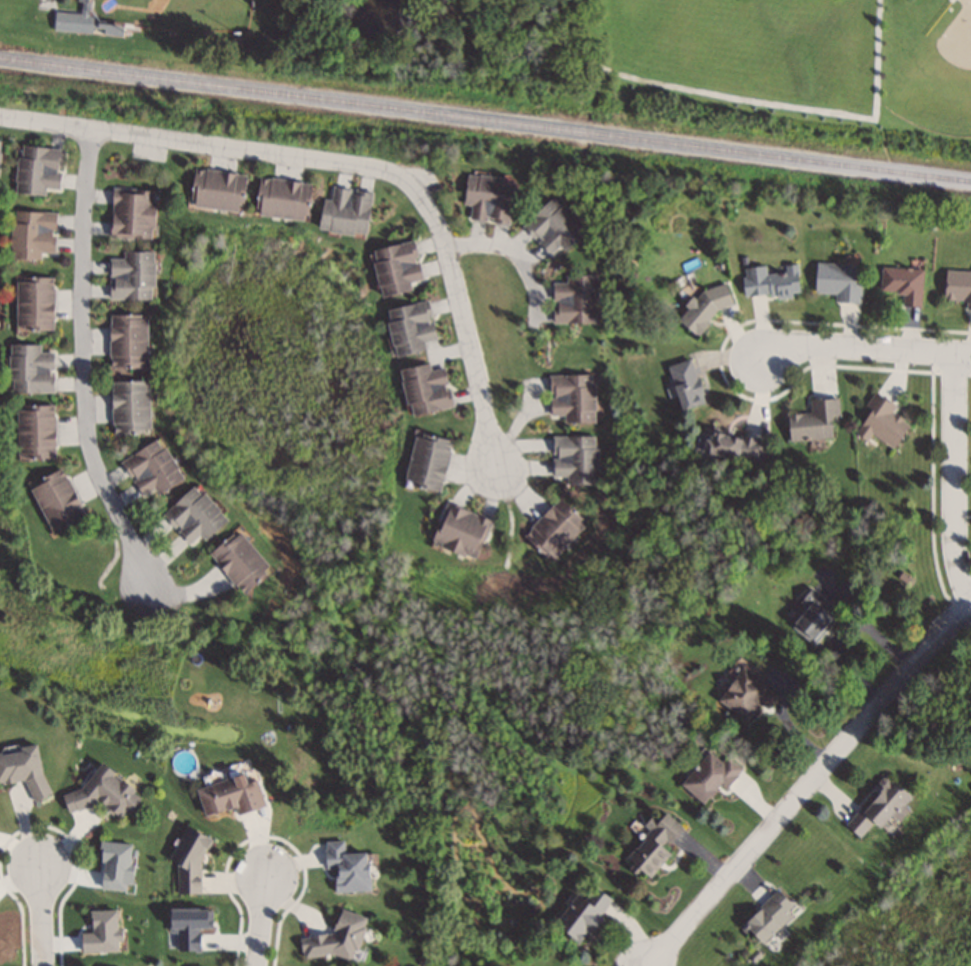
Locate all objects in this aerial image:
park: (172, 13)
building: (81, 21)
park: (597, 52)
road: (353, 163)
building: (38, 169)
building: (215, 189)
building: (488, 197)
building: (280, 198)
building: (344, 211)
building: (130, 213)
building: (553, 227)
building: (32, 234)
road: (516, 254)
building: (395, 267)
building: (130, 275)
building: (769, 280)
building: (837, 280)
building: (902, 283)
building: (957, 287)
building: (573, 299)
building: (699, 302)
building: (33, 303)
building: (408, 327)
building: (125, 341)
road: (865, 347)
road: (83, 361)
building: (29, 369)
building: (684, 383)
building: (424, 388)
building: (570, 398)
building: (128, 407)
building: (812, 420)
building: (881, 420)
building: (34, 432)
building: (732, 447)
building: (574, 458)
building: (426, 462)
building: (150, 468)
road: (955, 477)
building: (54, 498)
building: (194, 514)
building: (555, 530)
building: (460, 531)
building: (238, 560)
building: (812, 616)
building: (746, 693)
building: (22, 768)
building: (709, 775)
road: (808, 785)
building: (100, 791)
building: (228, 794)
building: (877, 806)
building: (651, 844)
building: (188, 862)
building: (345, 867)
building: (764, 912)
building: (580, 914)
road: (42, 916)
road: (261, 922)
building: (331, 938)

